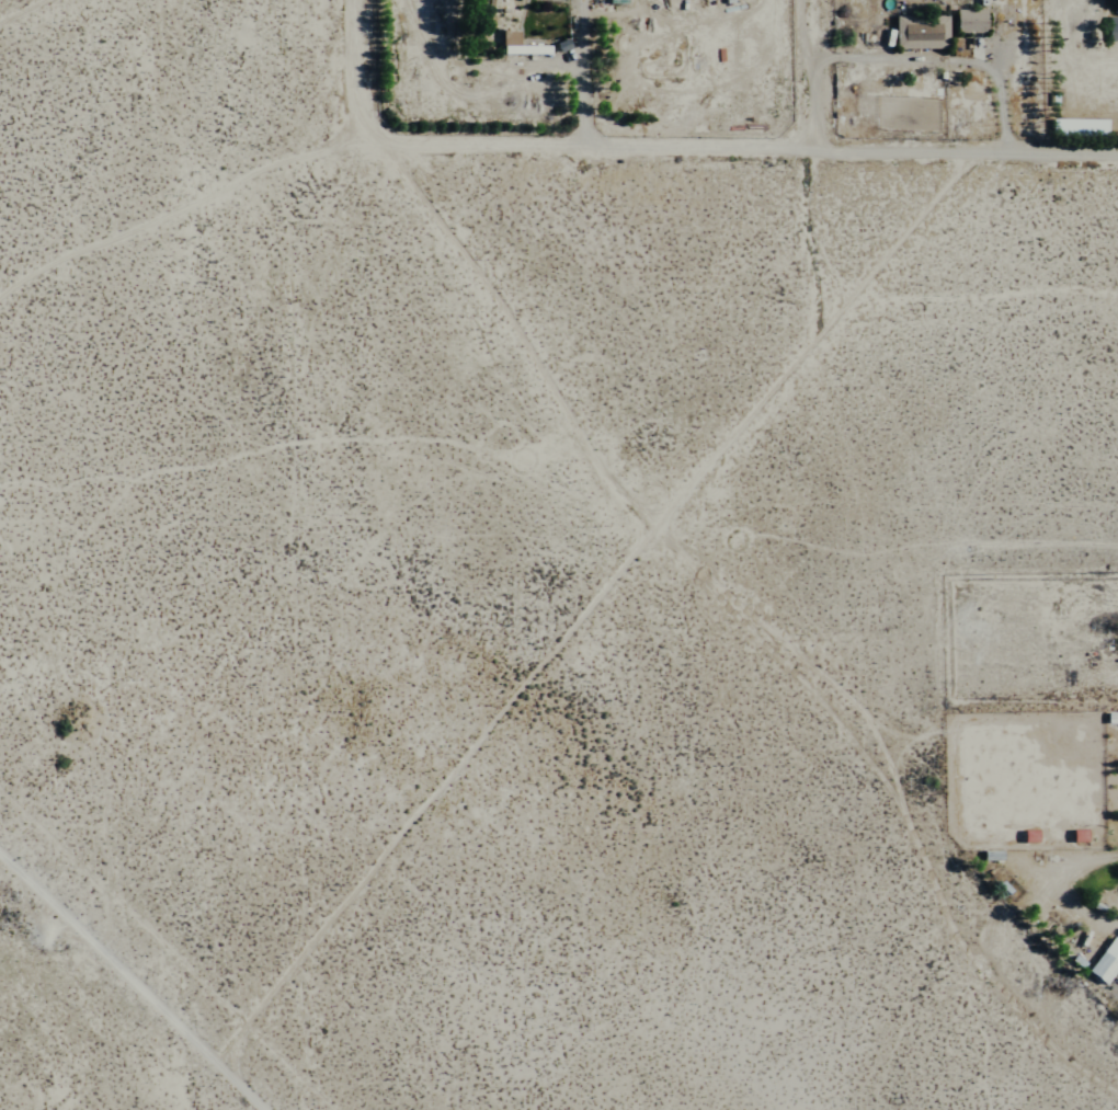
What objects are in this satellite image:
road: (21, 10)
road: (945, 59)
road: (357, 71)
road: (580, 72)
road: (815, 76)
road: (738, 149)
road: (176, 210)
building: (1075, 835)
building: (1026, 836)
building: (1104, 962)
road: (128, 985)

